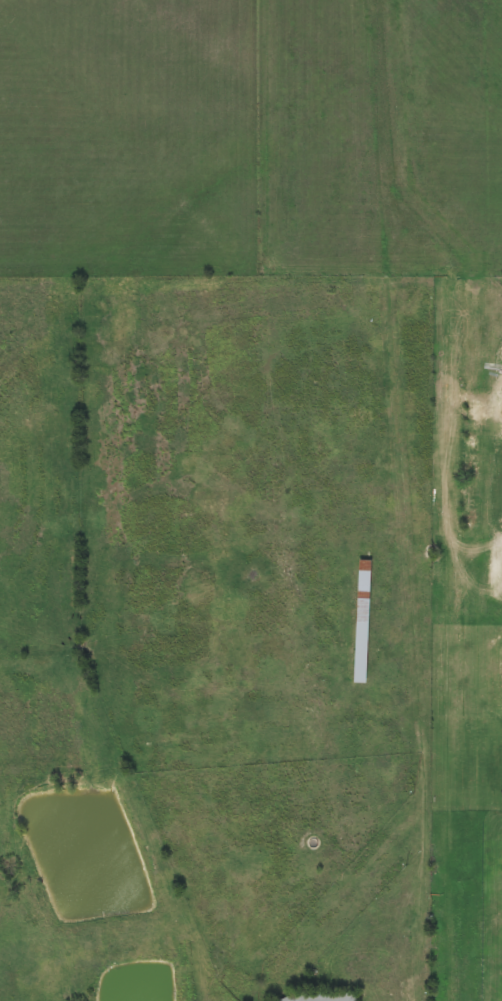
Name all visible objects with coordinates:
building: (473, 464)
building: (363, 622)
building: (326, 996)

